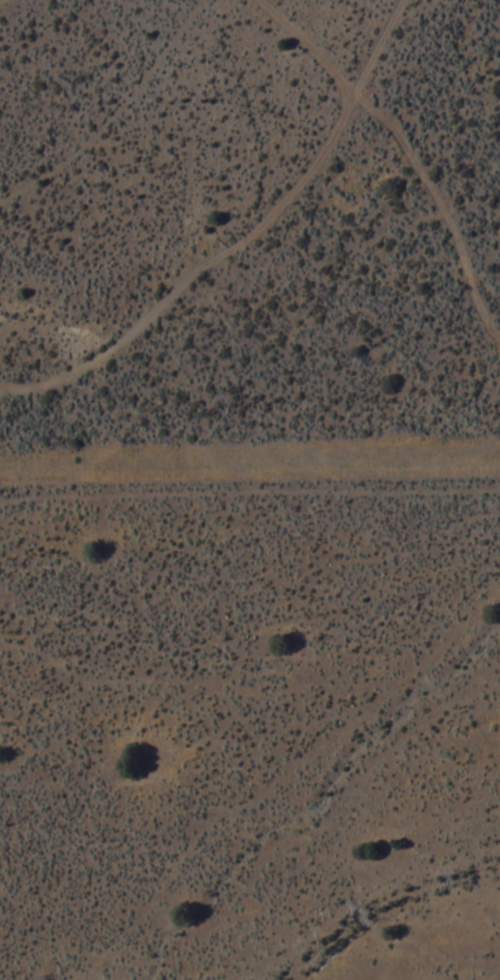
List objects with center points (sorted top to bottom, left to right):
road: (198, 139)
road: (240, 238)

